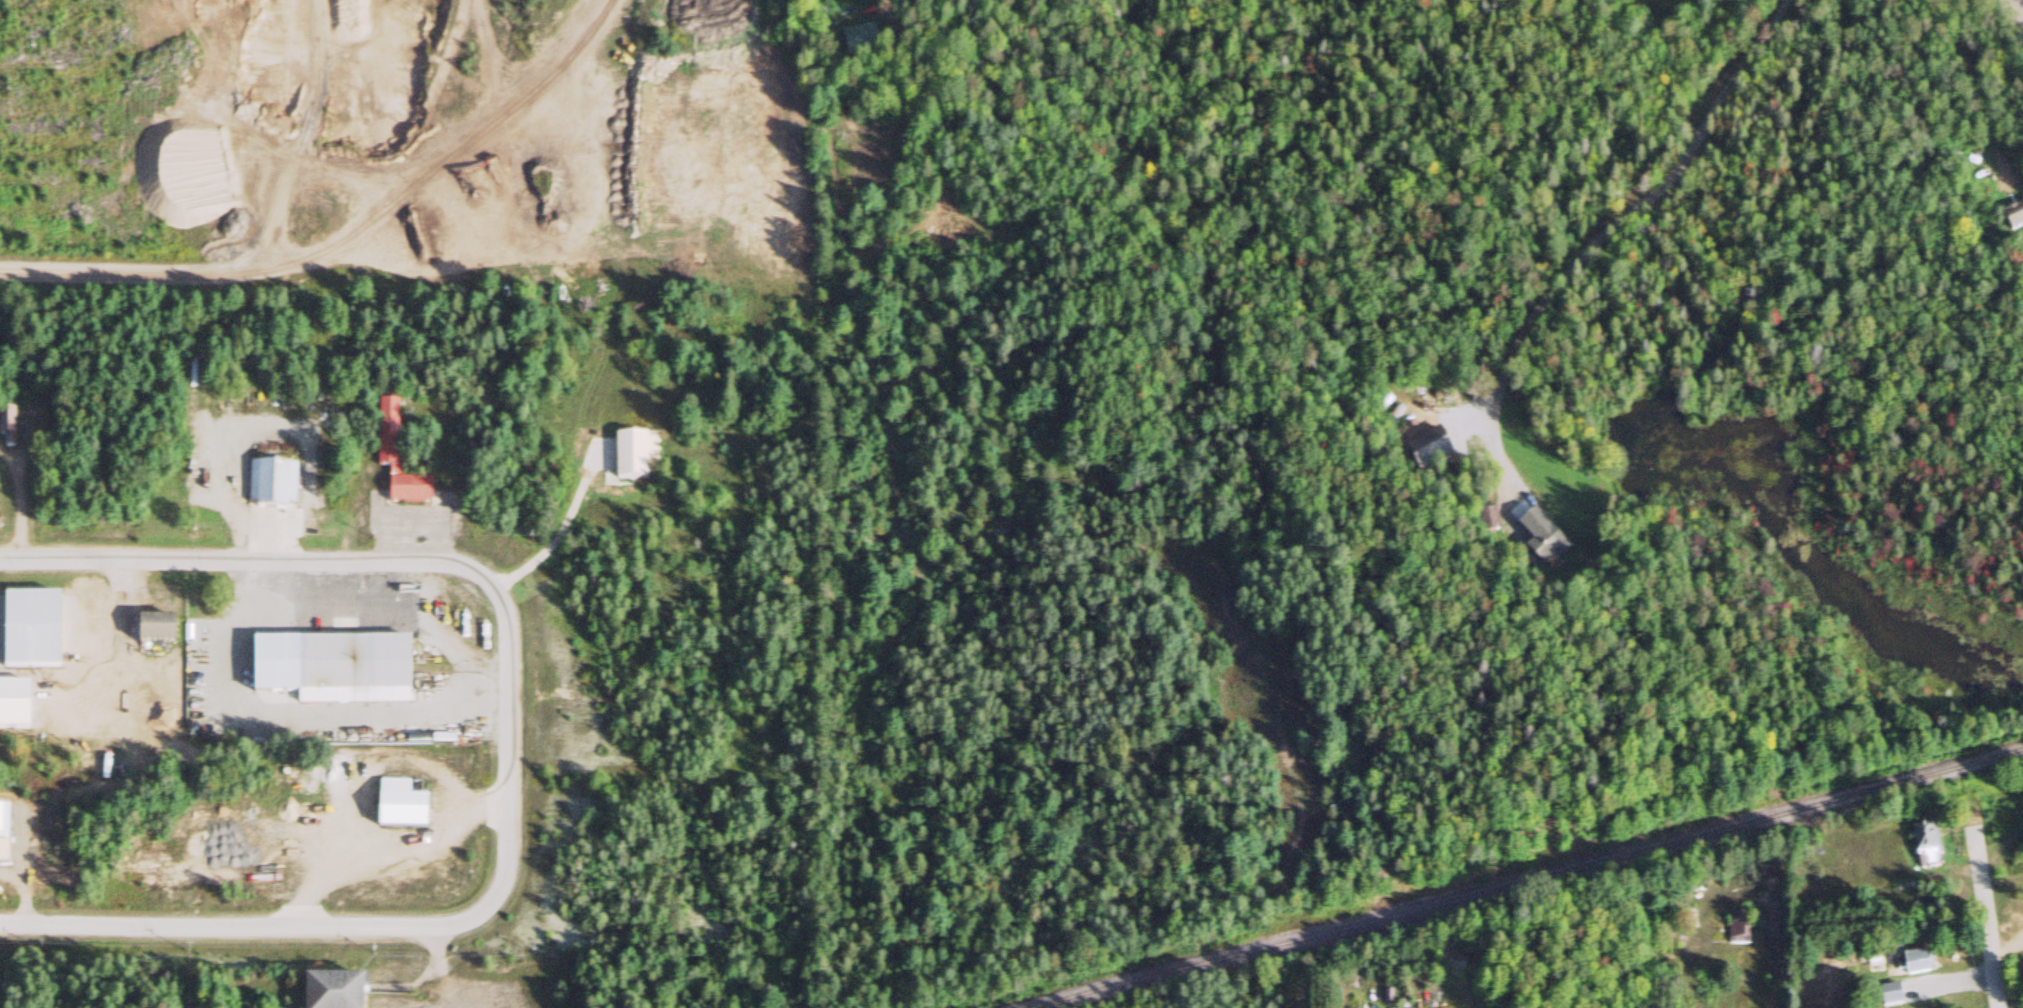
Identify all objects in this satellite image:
road: (2012, 8)
building: (2013, 219)
road: (1622, 240)
building: (200, 373)
building: (5, 423)
building: (637, 457)
building: (400, 460)
building: (275, 487)
building: (1554, 549)
building: (37, 632)
building: (164, 632)
building: (327, 658)
building: (19, 706)
building: (249, 739)
road: (508, 742)
building: (408, 808)
building: (6, 834)
building: (1920, 839)
railway: (1528, 880)
road: (1984, 908)
building: (1736, 929)
building: (1911, 965)
road: (1732, 974)
building: (342, 993)

